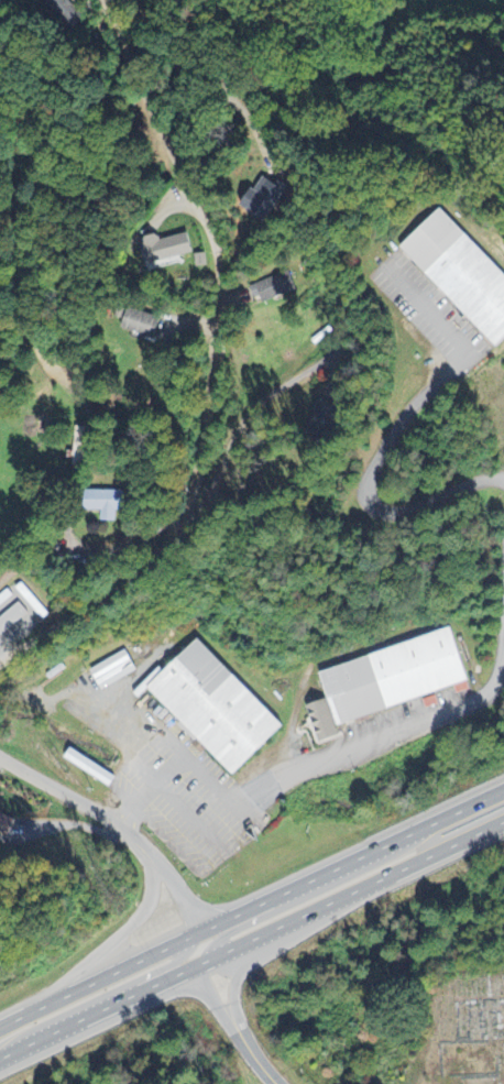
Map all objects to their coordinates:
building: (266, 198)
building: (460, 271)
building: (274, 289)
road: (26, 313)
building: (142, 324)
road: (211, 365)
building: (324, 420)
road: (238, 421)
road: (397, 427)
building: (111, 505)
building: (18, 616)
building: (118, 668)
building: (388, 682)
building: (215, 708)
building: (96, 722)
road: (315, 763)
building: (92, 767)
building: (6, 824)
road: (114, 825)
road: (351, 898)
road: (250, 907)
road: (243, 921)
road: (123, 932)
road: (155, 973)
road: (235, 979)
road: (97, 1011)
road: (233, 1026)

